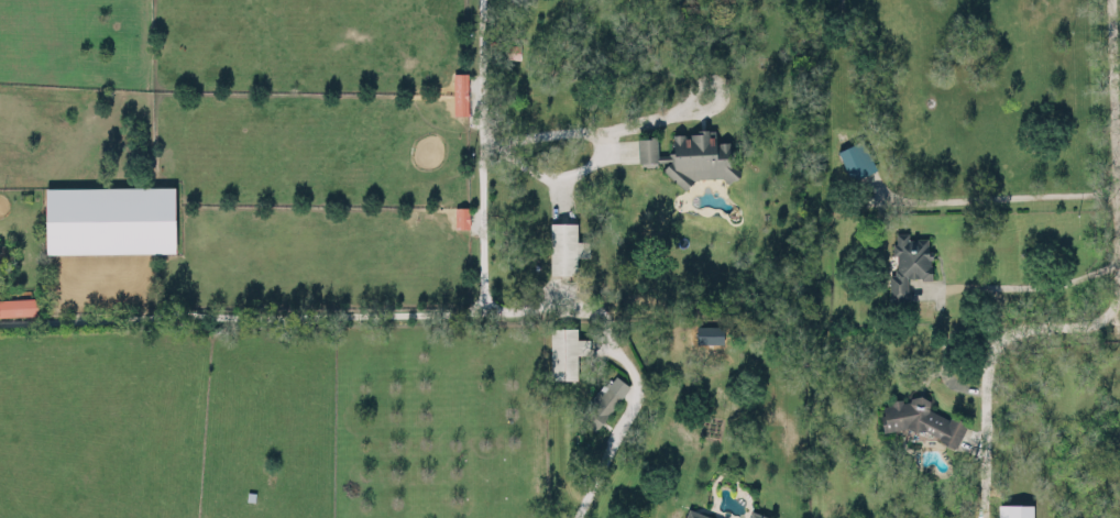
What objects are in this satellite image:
road: (716, 86)
building: (459, 92)
road: (514, 133)
building: (691, 155)
building: (855, 158)
road: (554, 178)
road: (991, 197)
building: (109, 218)
building: (564, 246)
building: (908, 260)
road: (1036, 283)
road: (482, 289)
building: (18, 305)
road: (1113, 306)
road: (241, 313)
building: (564, 351)
building: (604, 401)
building: (921, 418)
road: (622, 420)
building: (1014, 510)
building: (695, 514)
building: (757, 515)

